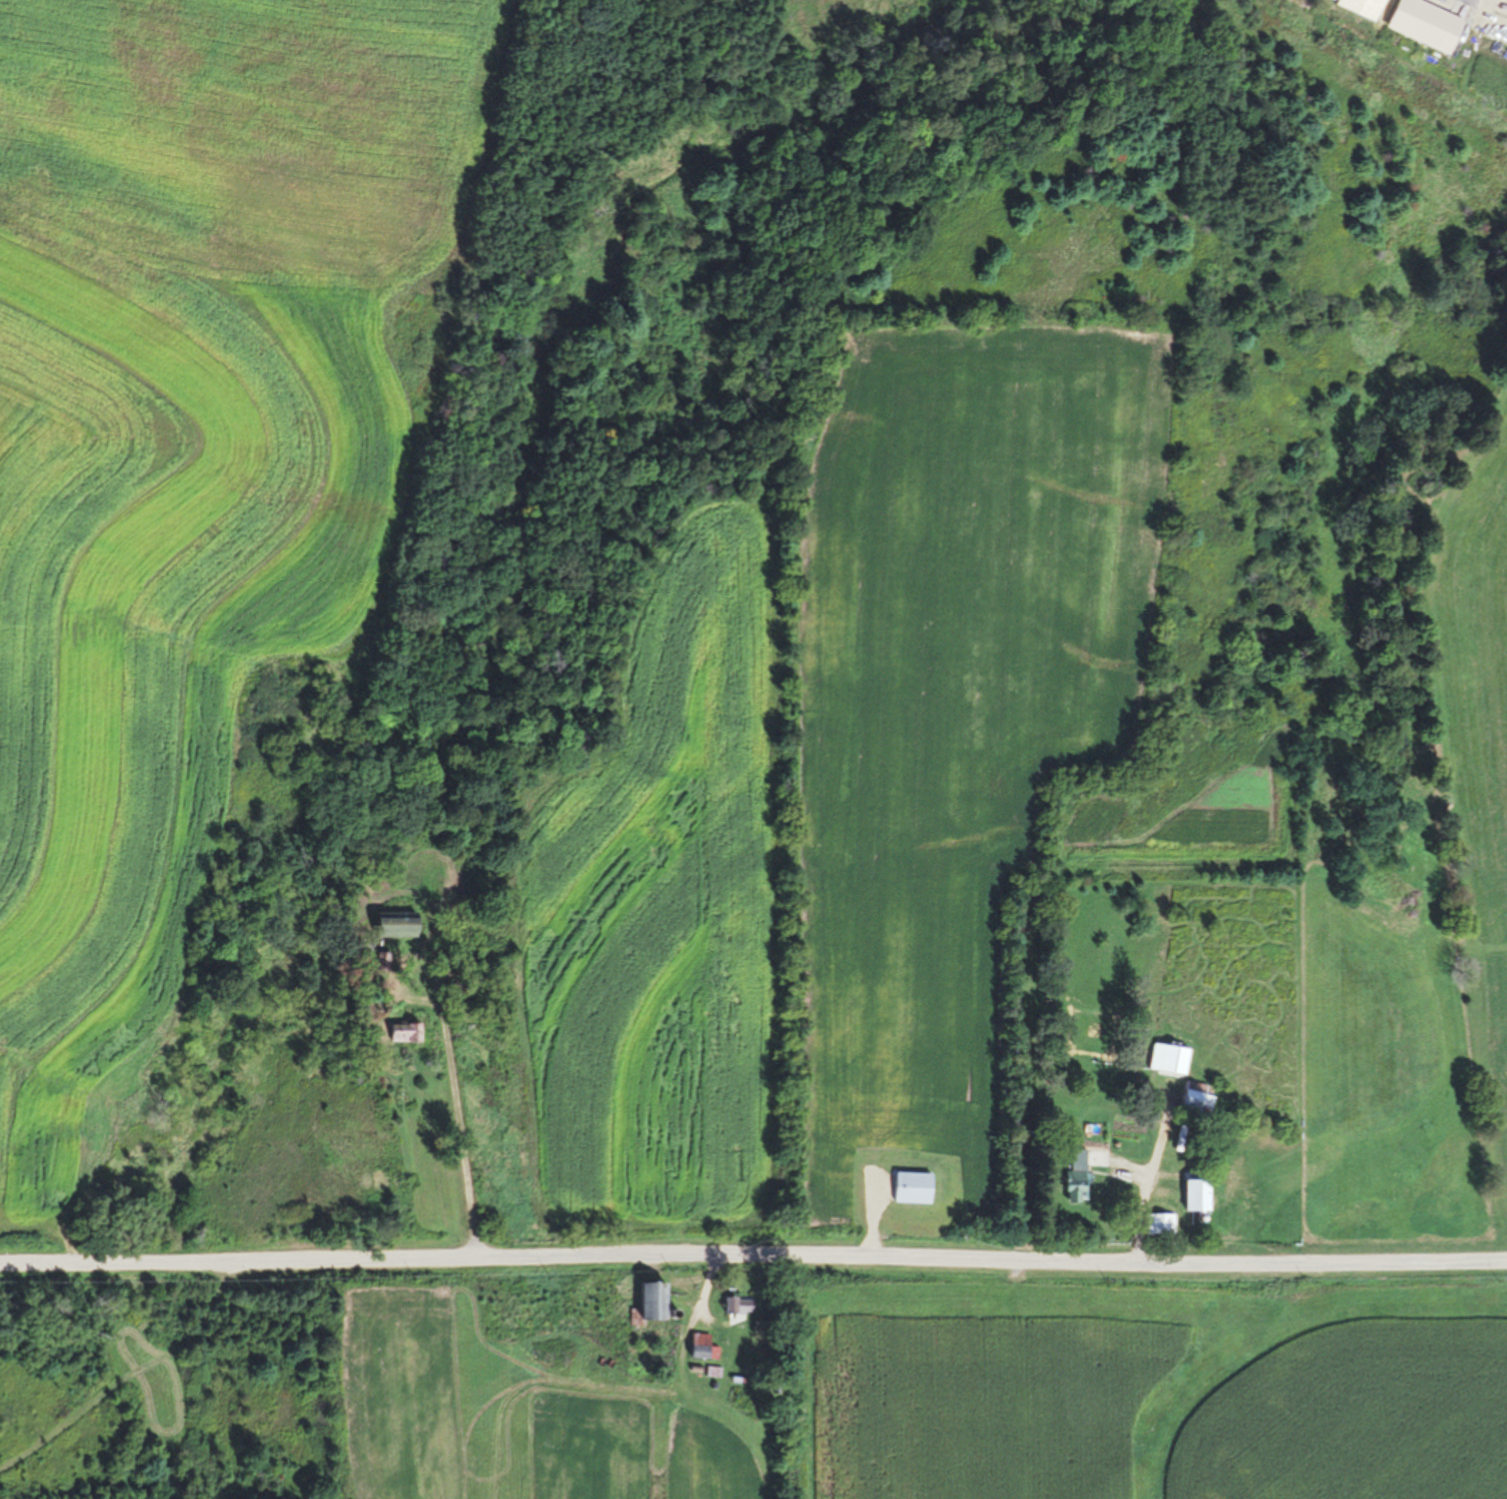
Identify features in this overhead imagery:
building: (1421, 24)
building: (392, 926)
building: (404, 1033)
building: (1195, 1097)
building: (1173, 1149)
building: (910, 1187)
building: (1192, 1195)
building: (1158, 1224)
road: (753, 1255)
building: (649, 1299)
building: (738, 1303)
building: (698, 1345)

